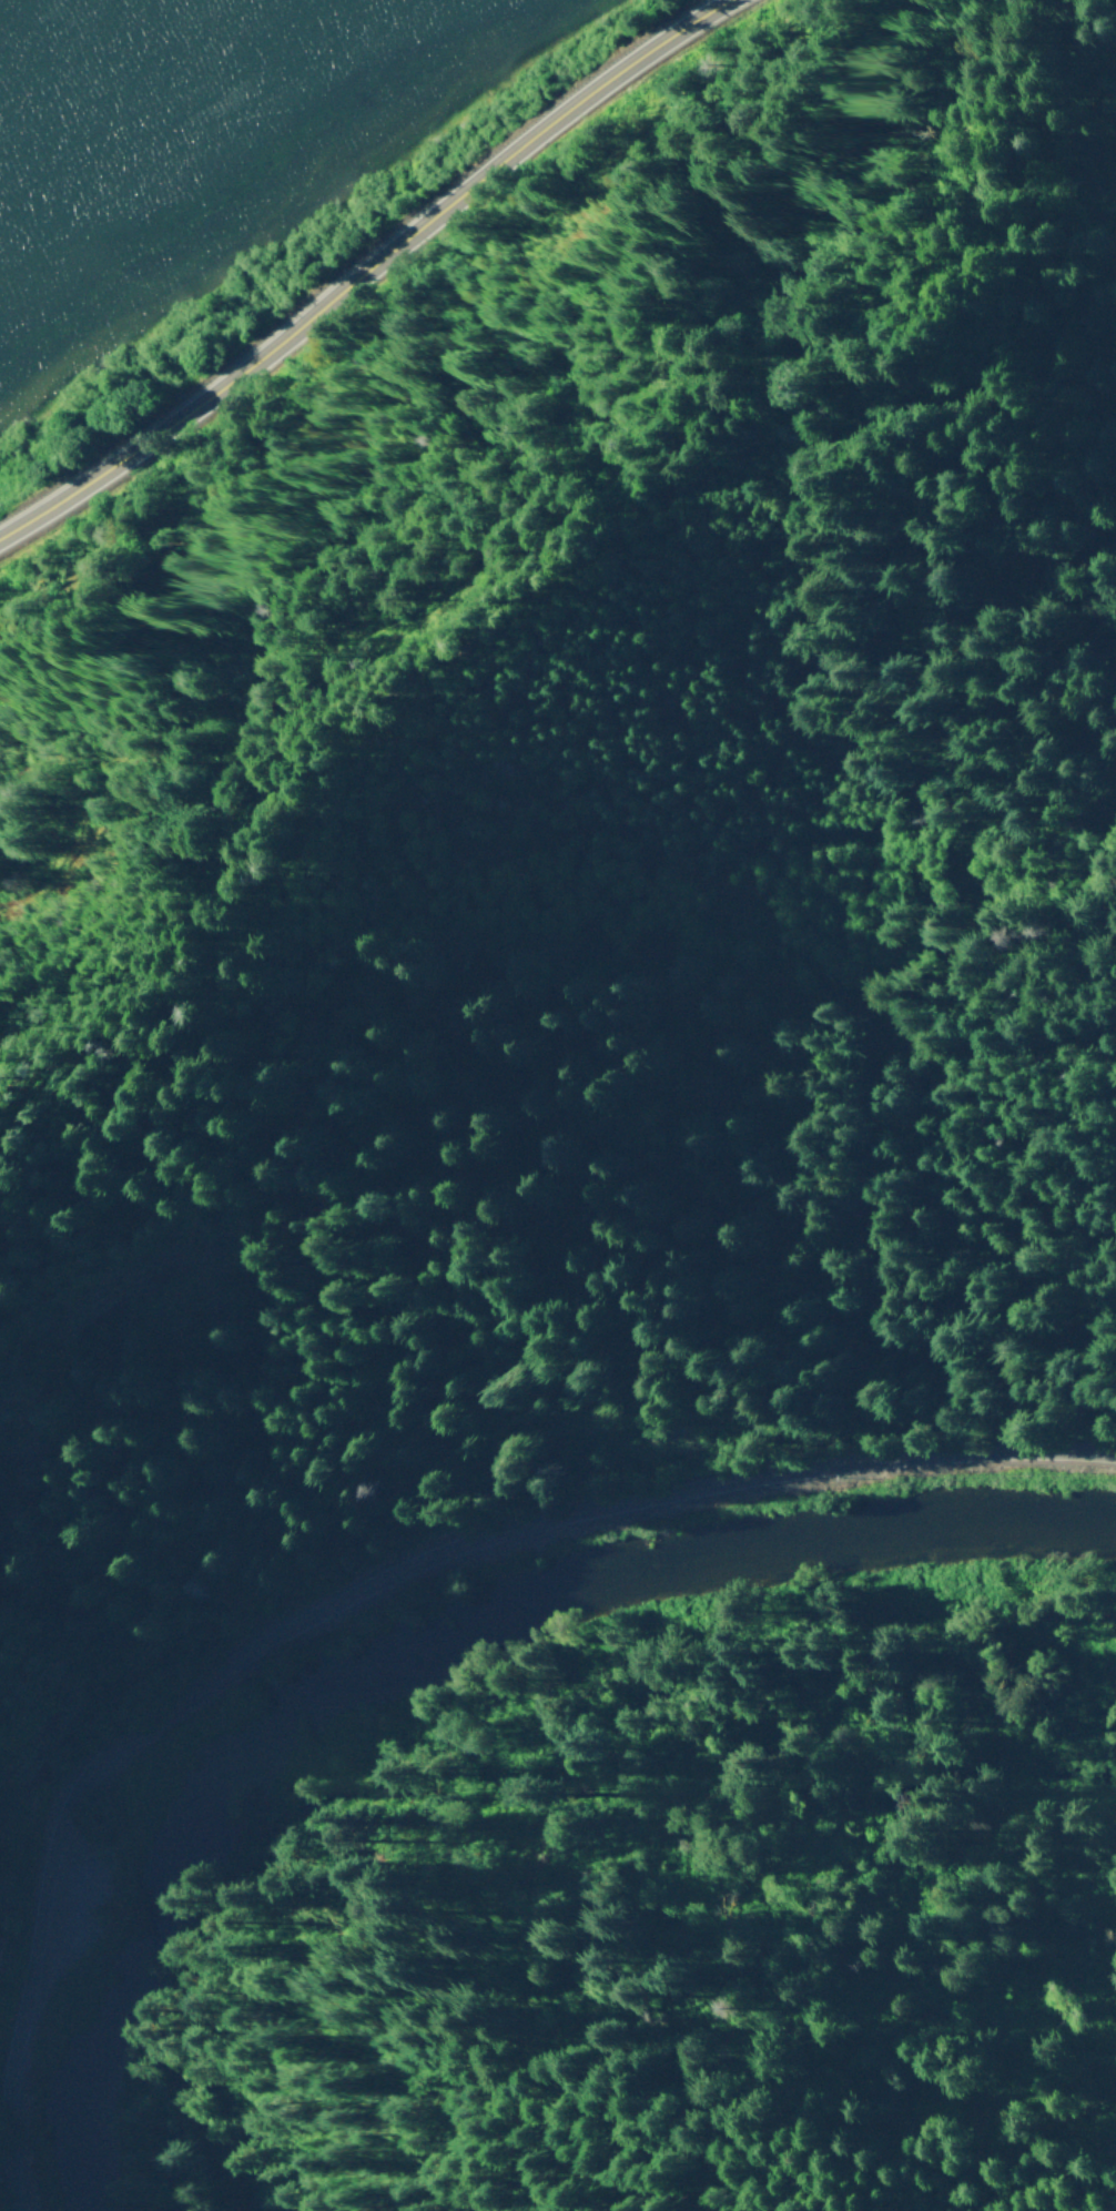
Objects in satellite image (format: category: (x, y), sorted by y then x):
river: (111, 60)
road: (367, 271)
road: (436, 1561)

